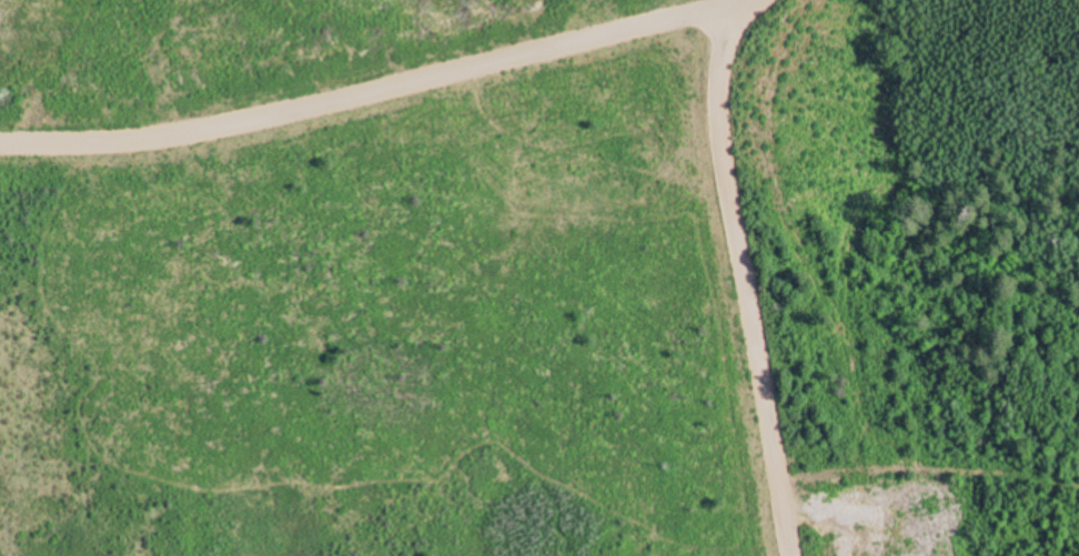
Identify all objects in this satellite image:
road: (373, 92)
road: (745, 274)

